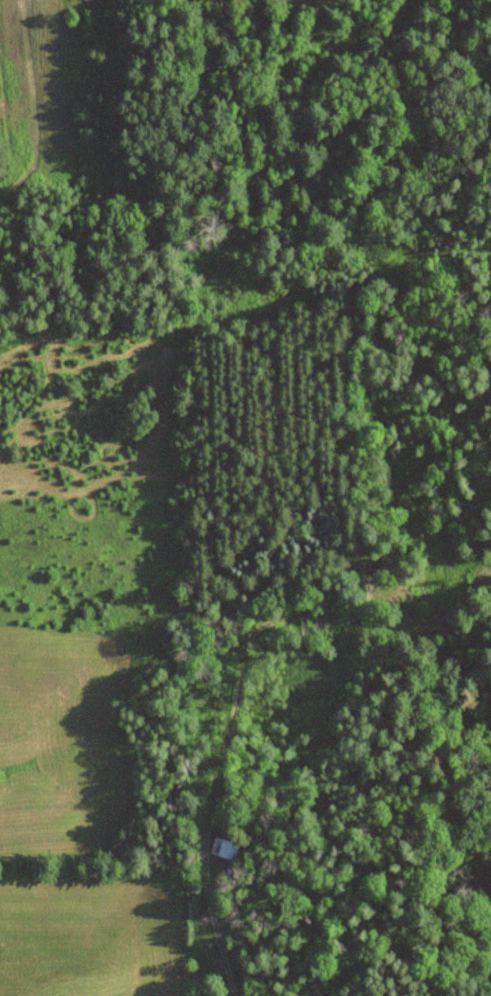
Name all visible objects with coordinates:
building: (385, 566)
building: (225, 849)

